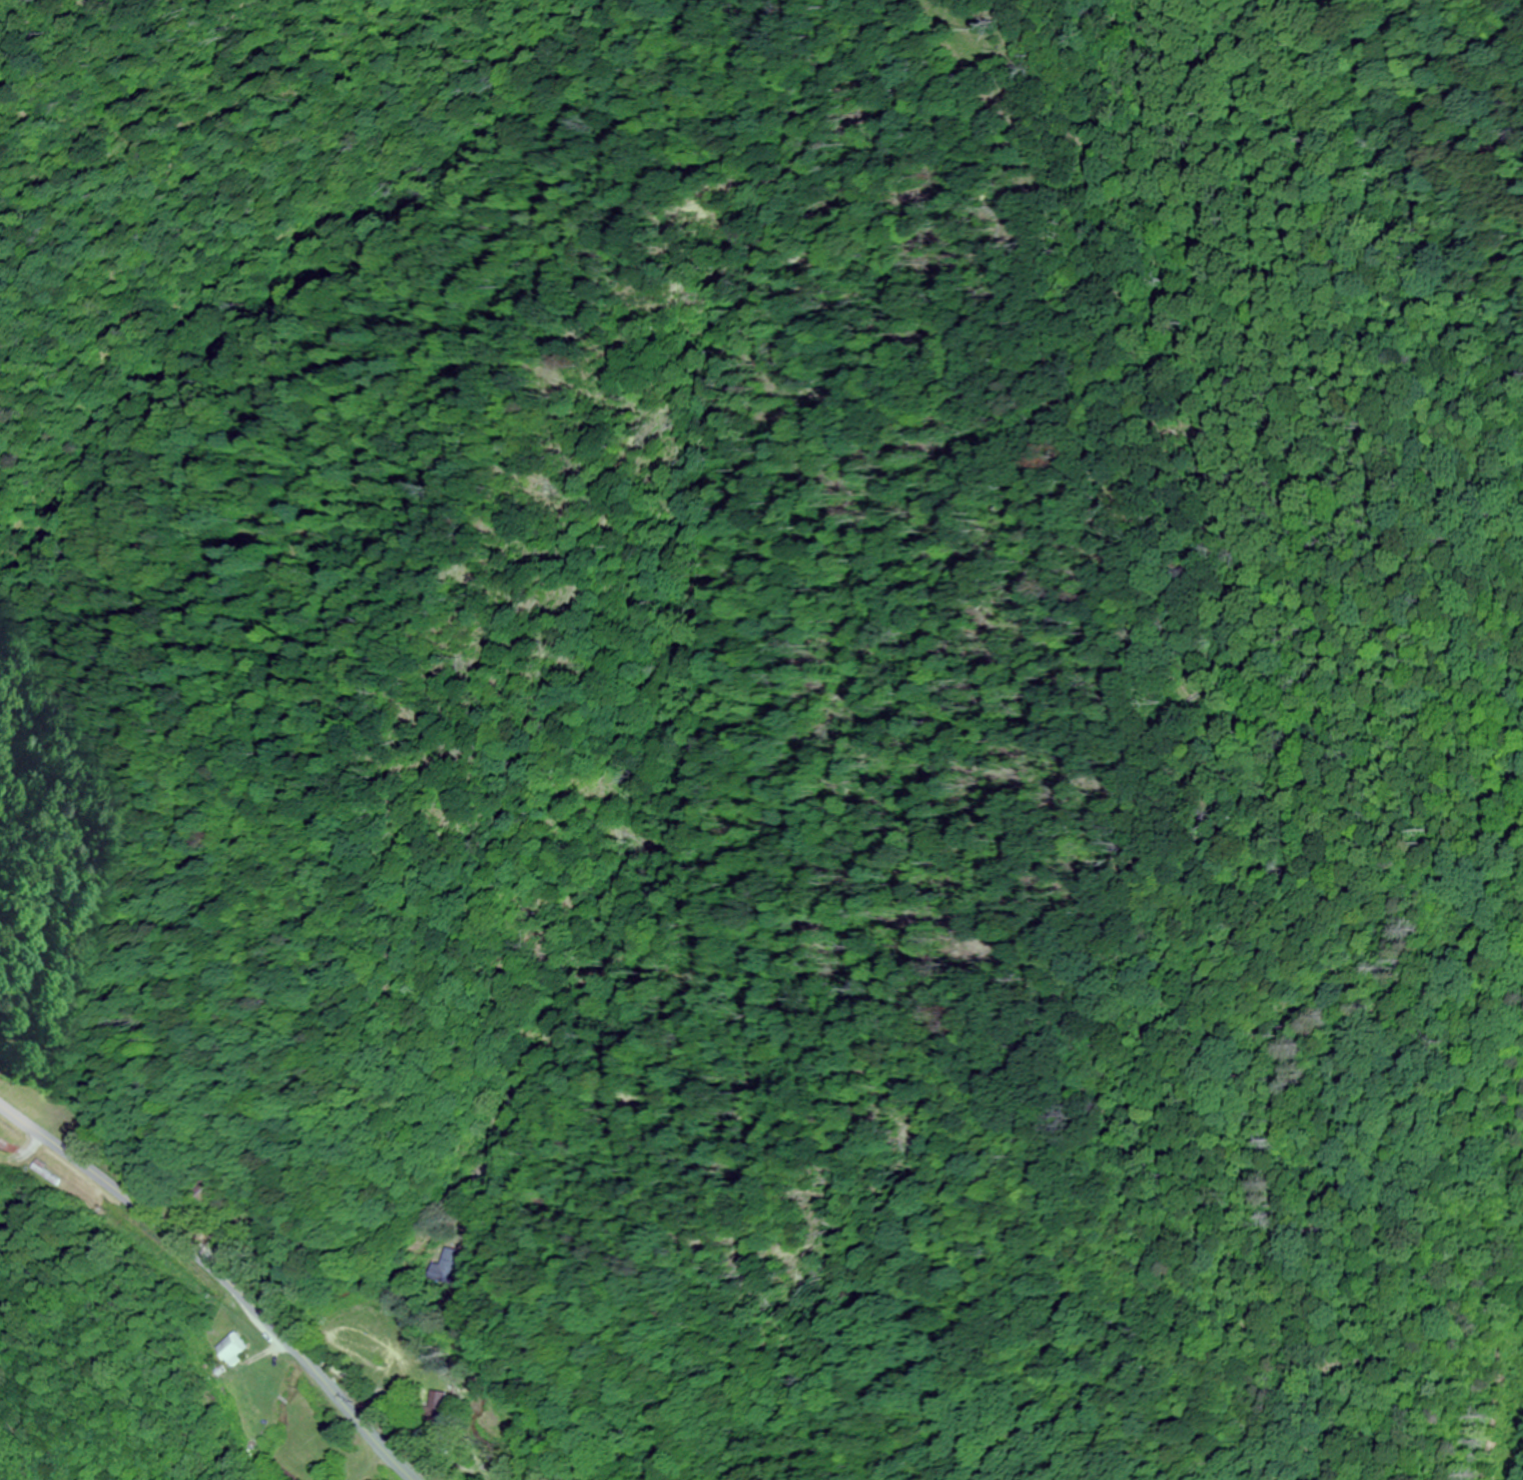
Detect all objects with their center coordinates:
road: (632, 1103)
building: (8, 1146)
building: (40, 1170)
building: (451, 1265)
road: (219, 1277)
building: (232, 1349)
building: (437, 1406)

